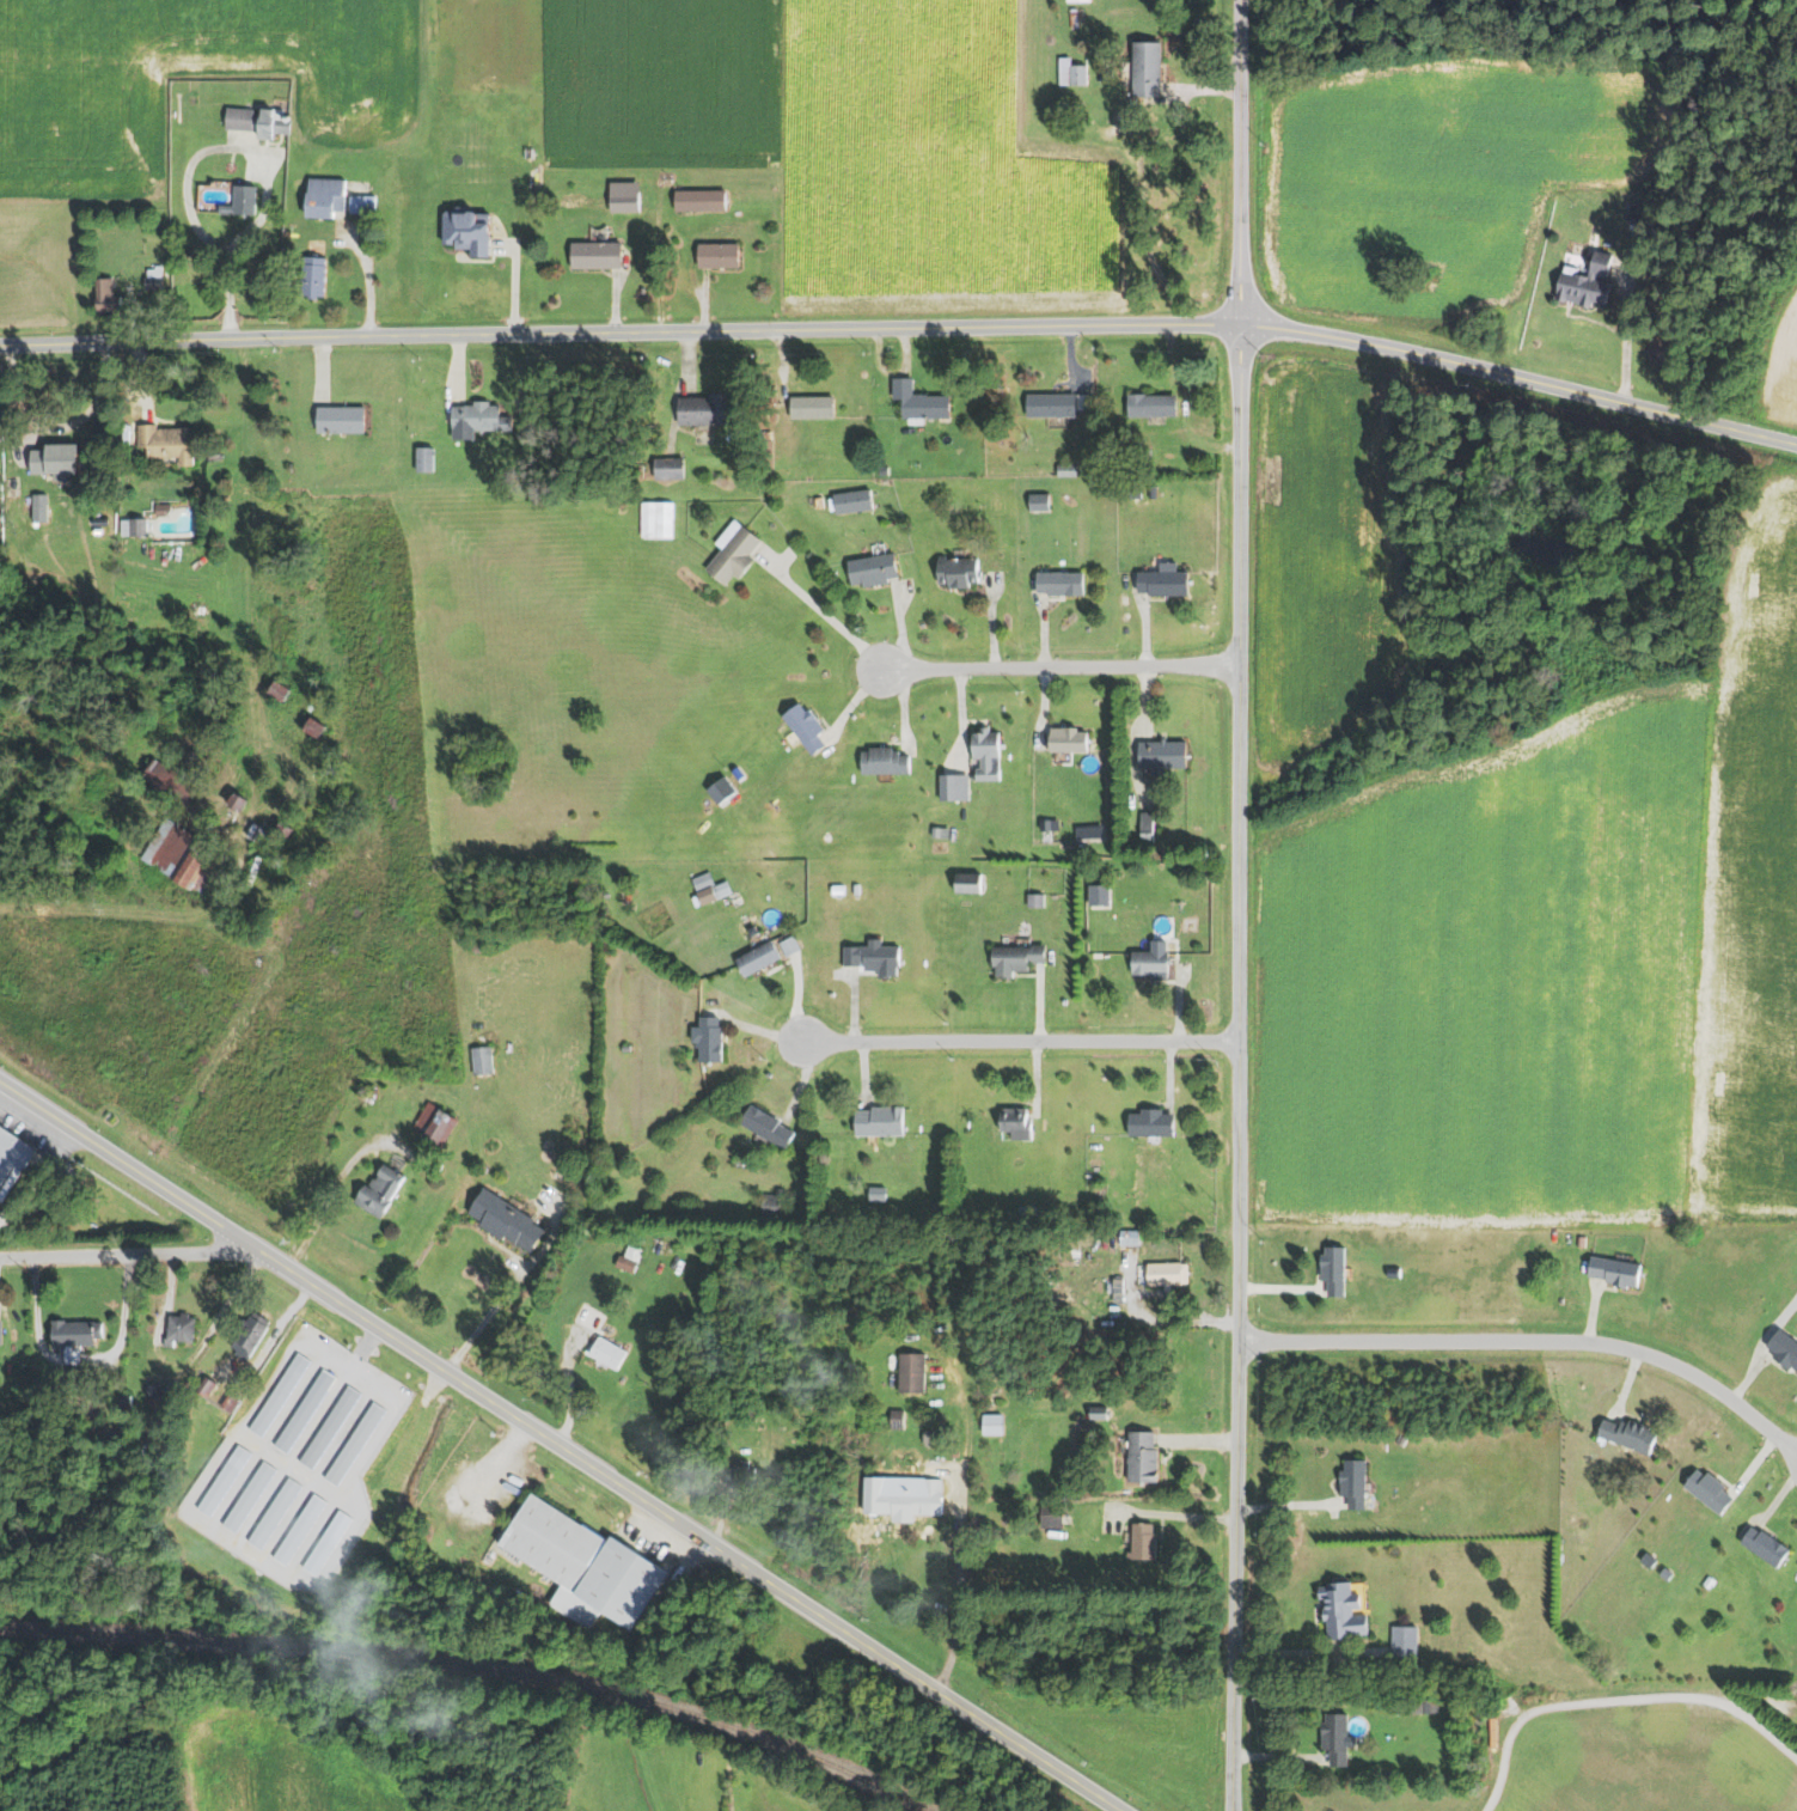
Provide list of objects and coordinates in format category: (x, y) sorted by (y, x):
building: (1078, 0)
building: (1153, 68)
building: (1074, 72)
crop: (80, 98)
building: (258, 121)
road: (268, 160)
building: (630, 196)
building: (337, 199)
building: (705, 200)
building: (243, 202)
building: (473, 231)
building: (190, 251)
building: (599, 255)
building: (725, 255)
building: (323, 275)
building: (155, 279)
building: (1581, 281)
building: (109, 299)
road: (733, 334)
road: (115, 344)
road: (1517, 378)
building: (923, 401)
road: (100, 402)
building: (1059, 403)
building: (1156, 406)
building: (820, 407)
building: (717, 409)
building: (347, 419)
building: (483, 419)
building: (170, 440)
building: (59, 458)
building: (428, 458)
building: (676, 468)
building: (1, 495)
building: (858, 500)
building: (1044, 501)
building: (42, 506)
building: (167, 508)
building: (659, 519)
building: (134, 525)
building: (738, 551)
building: (879, 568)
building: (1169, 580)
building: (1065, 583)
road: (824, 615)
road: (1059, 666)
building: (281, 690)
building: (318, 726)
building: (809, 726)
building: (1074, 739)
building: (992, 754)
building: (1167, 755)
building: (890, 761)
building: (172, 782)
building: (958, 786)
building: (726, 791)
building: (239, 801)
building: (1149, 823)
building: (261, 833)
building: (189, 858)
building: (972, 883)
building: (719, 891)
building: (1105, 895)
road: (1237, 905)
building: (771, 953)
building: (879, 957)
building: (1147, 957)
building: (1022, 958)
building: (714, 1038)
road: (1017, 1041)
building: (485, 1060)
building: (886, 1121)
building: (439, 1122)
building: (1011, 1122)
building: (1147, 1122)
building: (772, 1127)
road: (96, 1142)
building: (13, 1151)
road: (39, 1178)
building: (386, 1191)
building: (514, 1222)
road: (226, 1227)
building: (1125, 1237)
road: (130, 1257)
building: (632, 1257)
building: (1330, 1268)
building: (1610, 1270)
building: (1163, 1273)
road: (509, 1288)
building: (1114, 1289)
building: (182, 1327)
building: (1, 1331)
building: (78, 1334)
road: (1534, 1342)
building: (247, 1346)
building: (1780, 1348)
building: (609, 1350)
building: (909, 1371)
building: (153, 1390)
building: (282, 1394)
building: (231, 1400)
building: (127, 1402)
building: (307, 1409)
building: (894, 1417)
building: (988, 1423)
building: (334, 1426)
building: (1621, 1433)
building: (359, 1441)
building: (1138, 1456)
building: (227, 1480)
road: (616, 1481)
building: (1350, 1482)
building: (1704, 1489)
building: (253, 1495)
building: (909, 1499)
building: (277, 1512)
building: (1047, 1520)
building: (302, 1529)
building: (1139, 1539)
building: (330, 1542)
building: (1760, 1544)
building: (591, 1563)
road: (956, 1605)
building: (1338, 1611)
building: (1401, 1641)
railway: (476, 1664)
building: (1422, 1705)
building: (1333, 1737)
road: (1046, 1761)
park: (1639, 1761)

